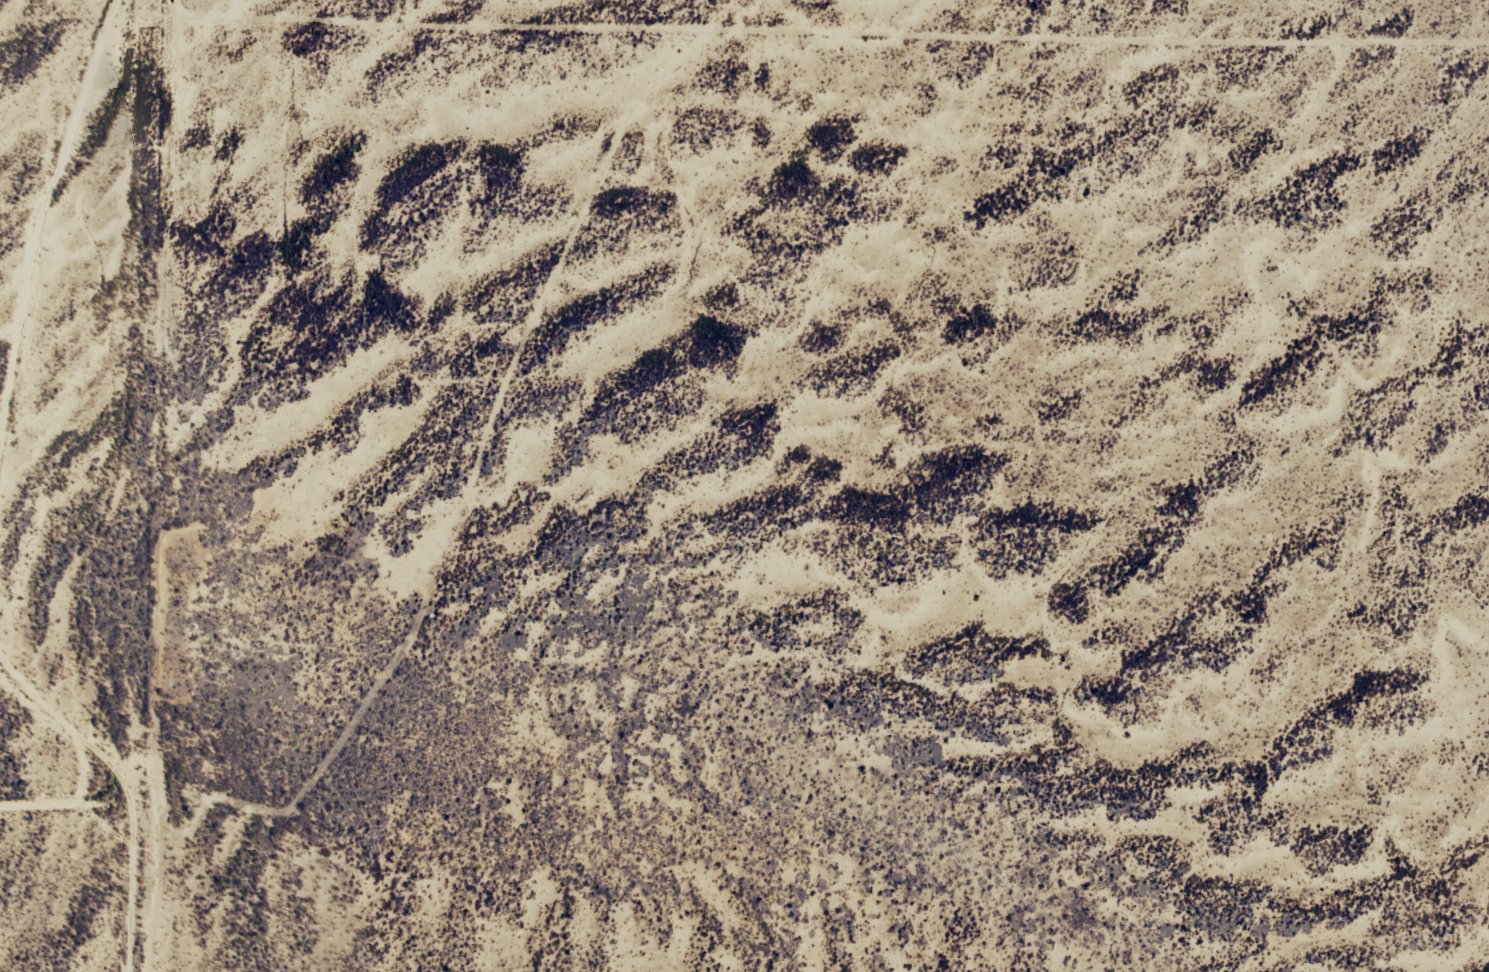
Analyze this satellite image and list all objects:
road: (130, 486)

